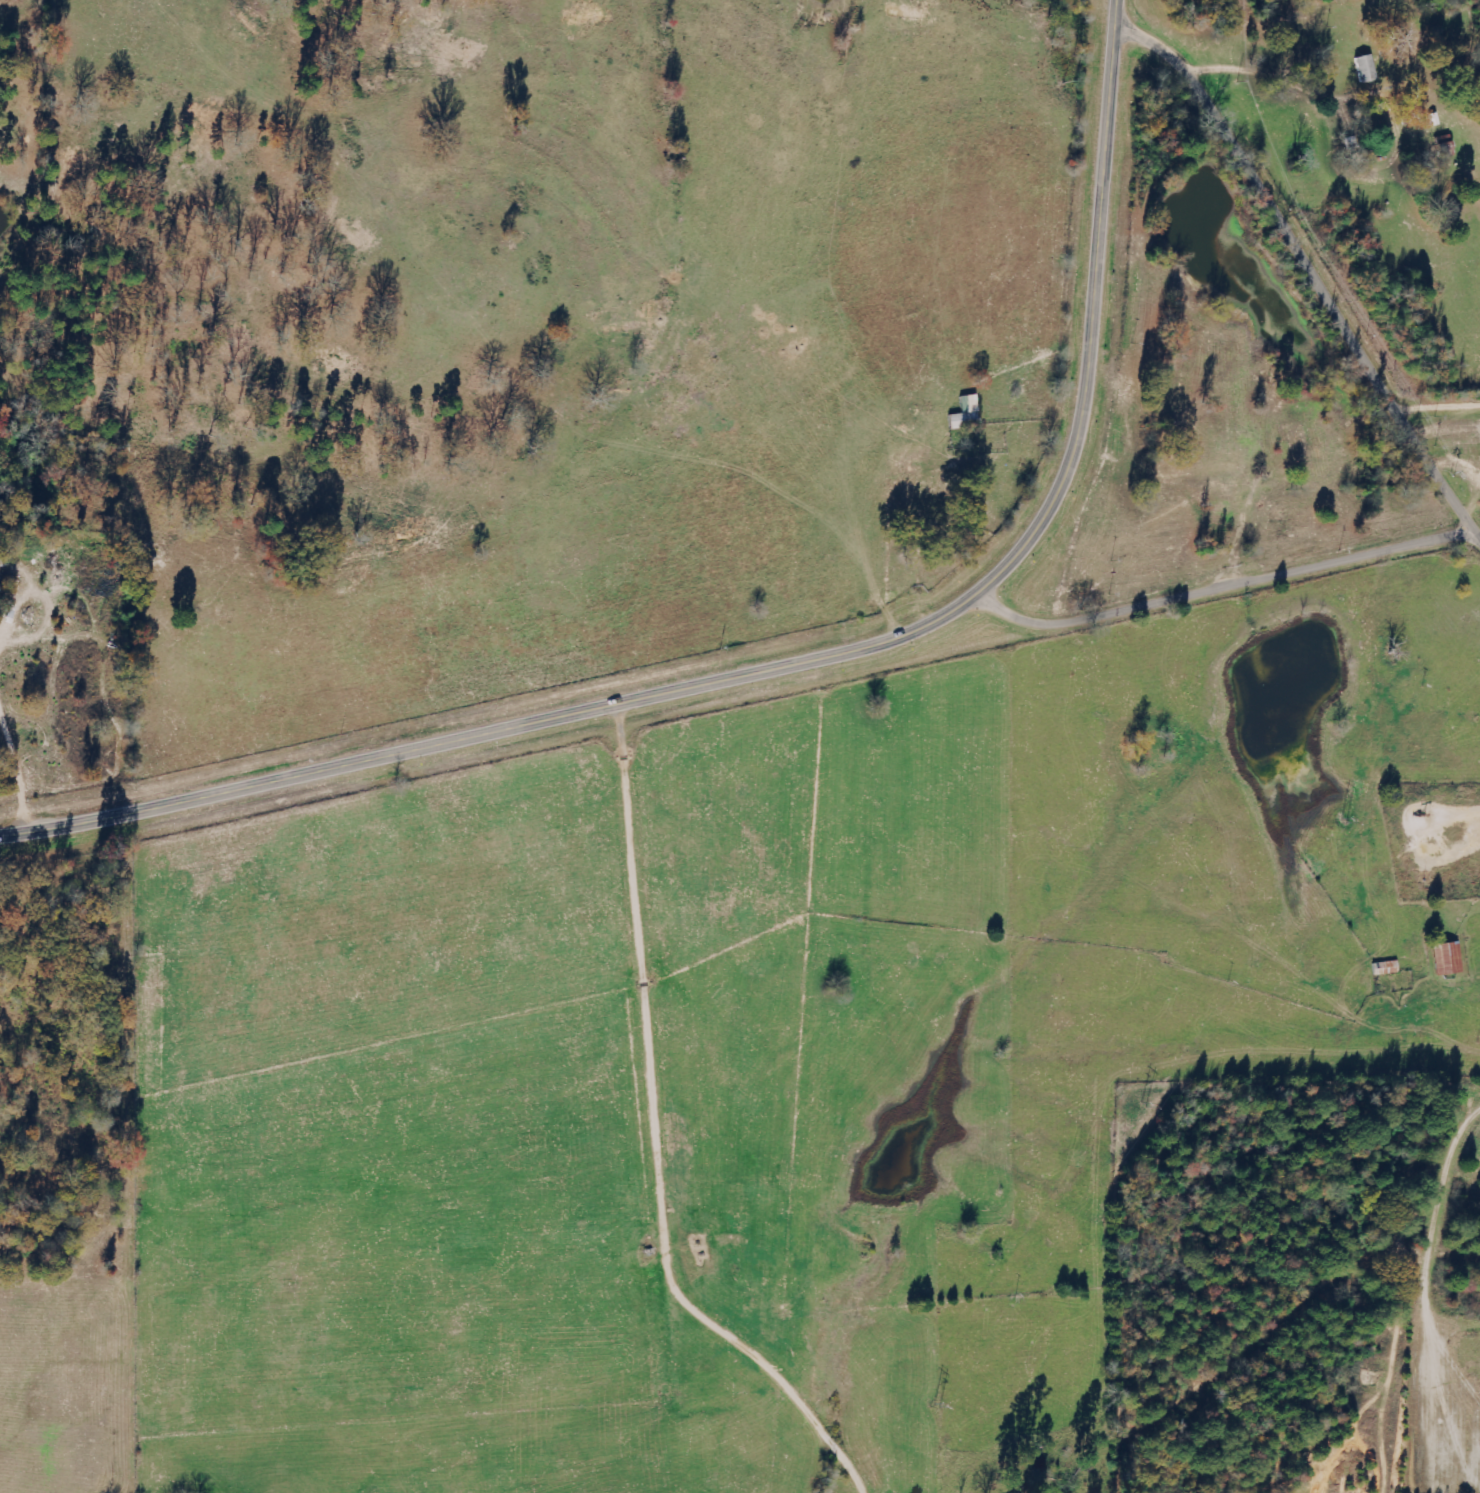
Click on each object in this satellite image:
road: (1478, 3)
building: (1365, 69)
road: (1274, 82)
building: (1446, 150)
road: (1295, 234)
building: (966, 414)
building: (1300, 447)
road: (1232, 473)
road: (1471, 489)
road: (1461, 499)
road: (1227, 592)
road: (801, 663)
power tower: (1347, 821)
building: (1447, 958)
road: (644, 970)
power tower: (1146, 1105)
road: (1428, 1268)
power tower: (937, 1408)

